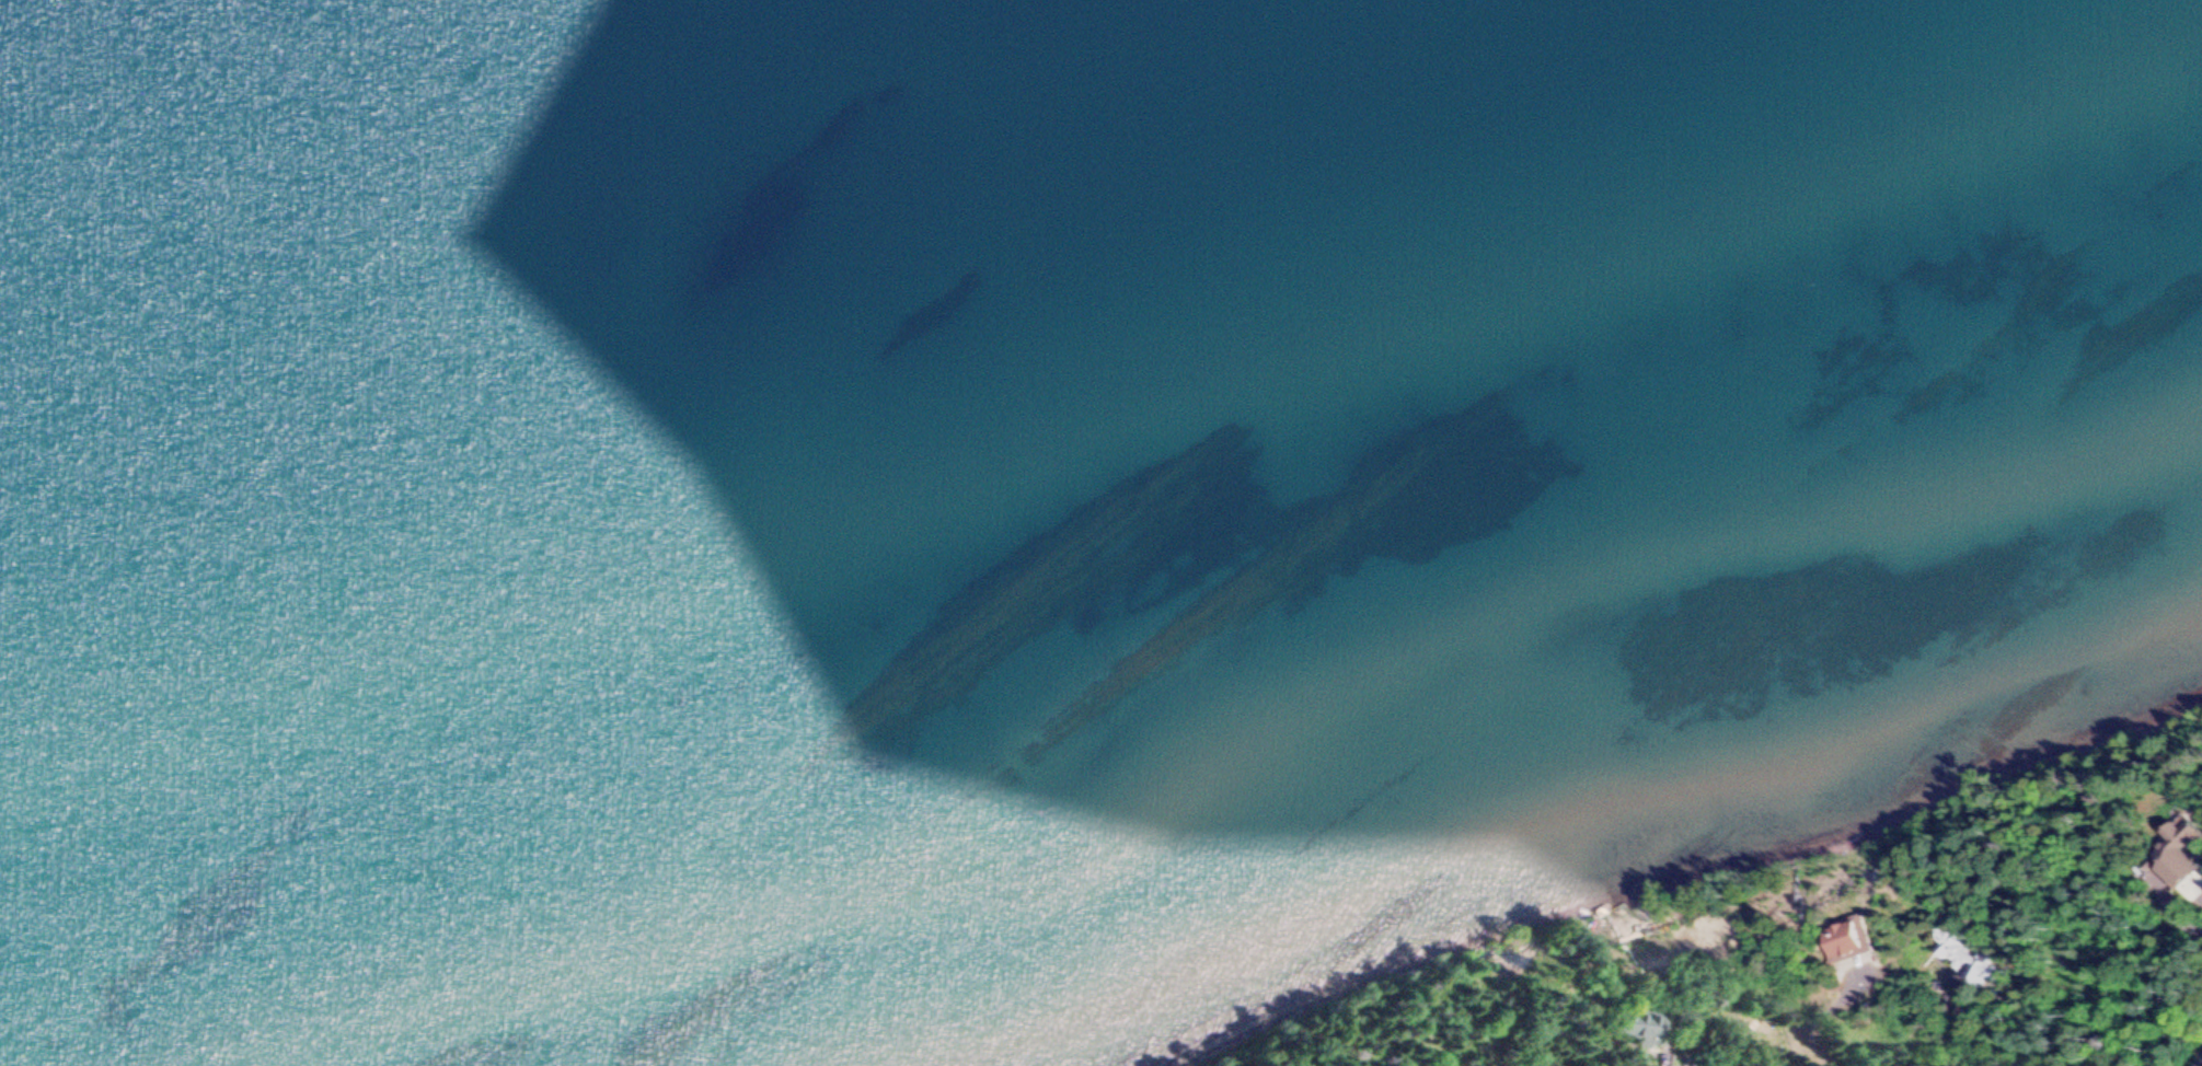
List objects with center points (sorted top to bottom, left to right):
building: (2182, 866)
building: (1847, 945)
building: (1986, 976)
road: (1834, 1021)
road: (2194, 1058)

